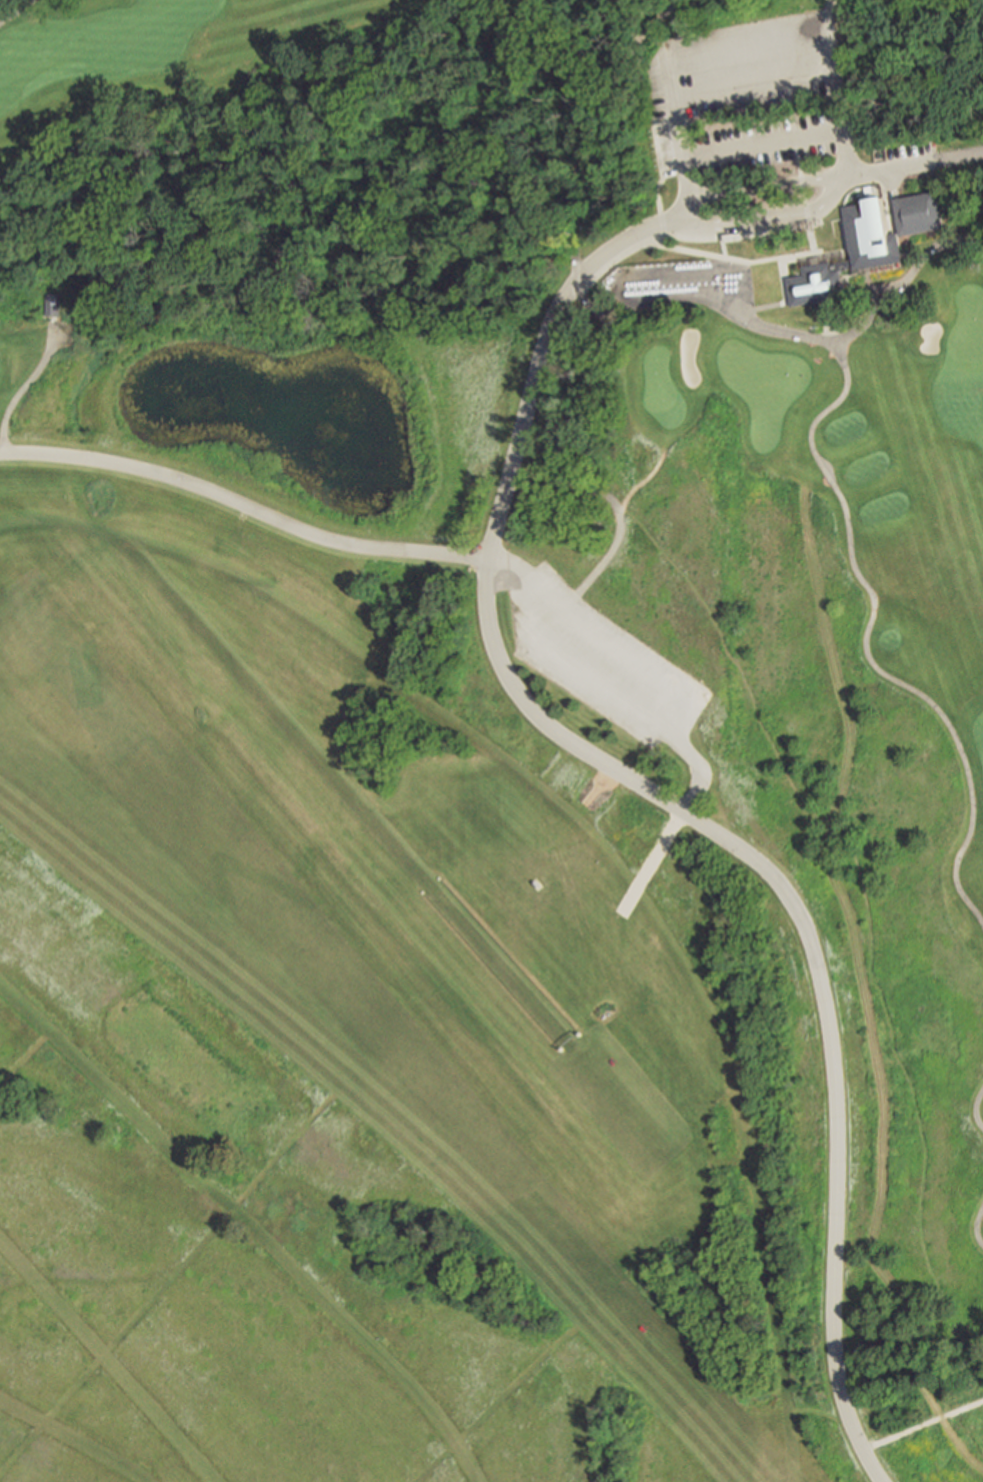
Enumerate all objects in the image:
road: (16, 10)
road: (559, 12)
road: (560, 33)
road: (735, 43)
road: (749, 83)
parking lot: (745, 96)
road: (615, 122)
road: (759, 143)
road: (791, 144)
road: (525, 151)
parking lot: (902, 154)
road: (908, 164)
road: (657, 182)
road: (829, 192)
road: (981, 231)
building: (867, 241)
road: (720, 249)
road: (691, 253)
parking lot: (678, 282)
road: (580, 289)
road: (781, 297)
building: (51, 307)
road: (810, 338)
road: (24, 381)
park: (760, 386)
park: (660, 390)
park: (597, 475)
road: (243, 505)
road: (863, 644)
parking lot: (599, 662)
road: (686, 712)
road: (323, 718)
road: (696, 772)
road: (361, 807)
road: (672, 808)
road: (851, 830)
road: (656, 851)
road: (633, 889)
track: (363, 974)
road: (24, 1056)
road: (390, 1079)
road: (976, 1107)
road: (306, 1120)
road: (976, 1224)
track: (247, 1225)
road: (245, 1226)
road: (584, 1312)
track: (106, 1358)
road: (106, 1361)
road: (815, 1410)
track: (73, 1438)
road: (72, 1439)

